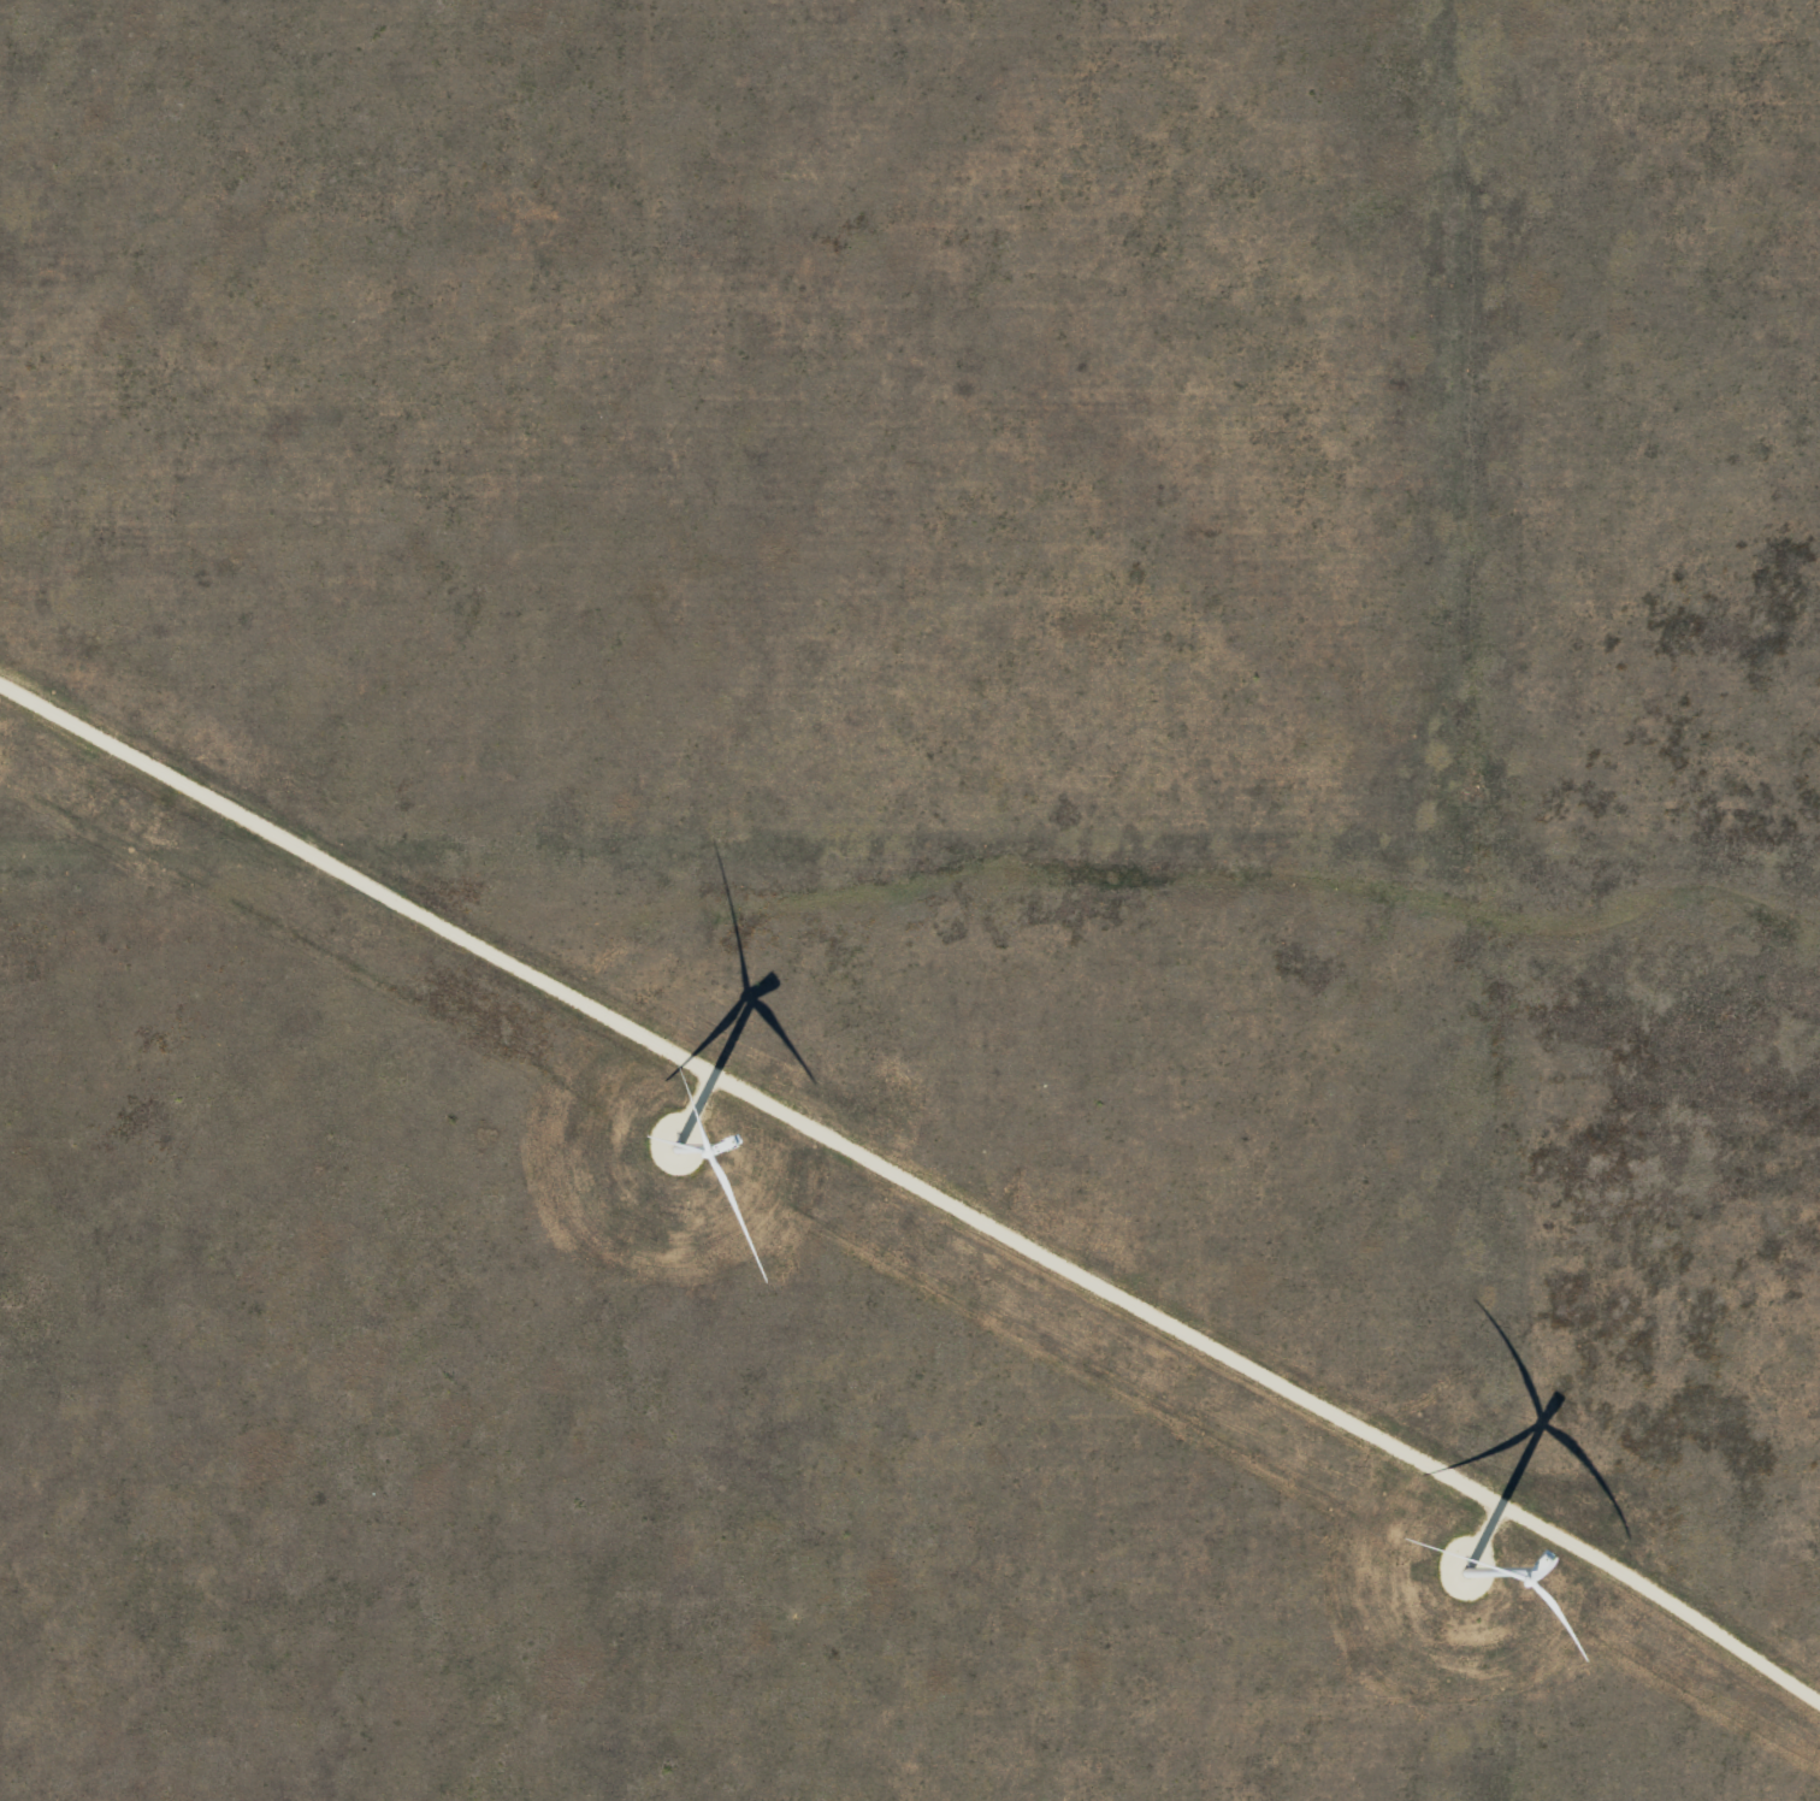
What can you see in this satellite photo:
wind turbine: (682, 1153)
wind turbine: (1475, 1579)

